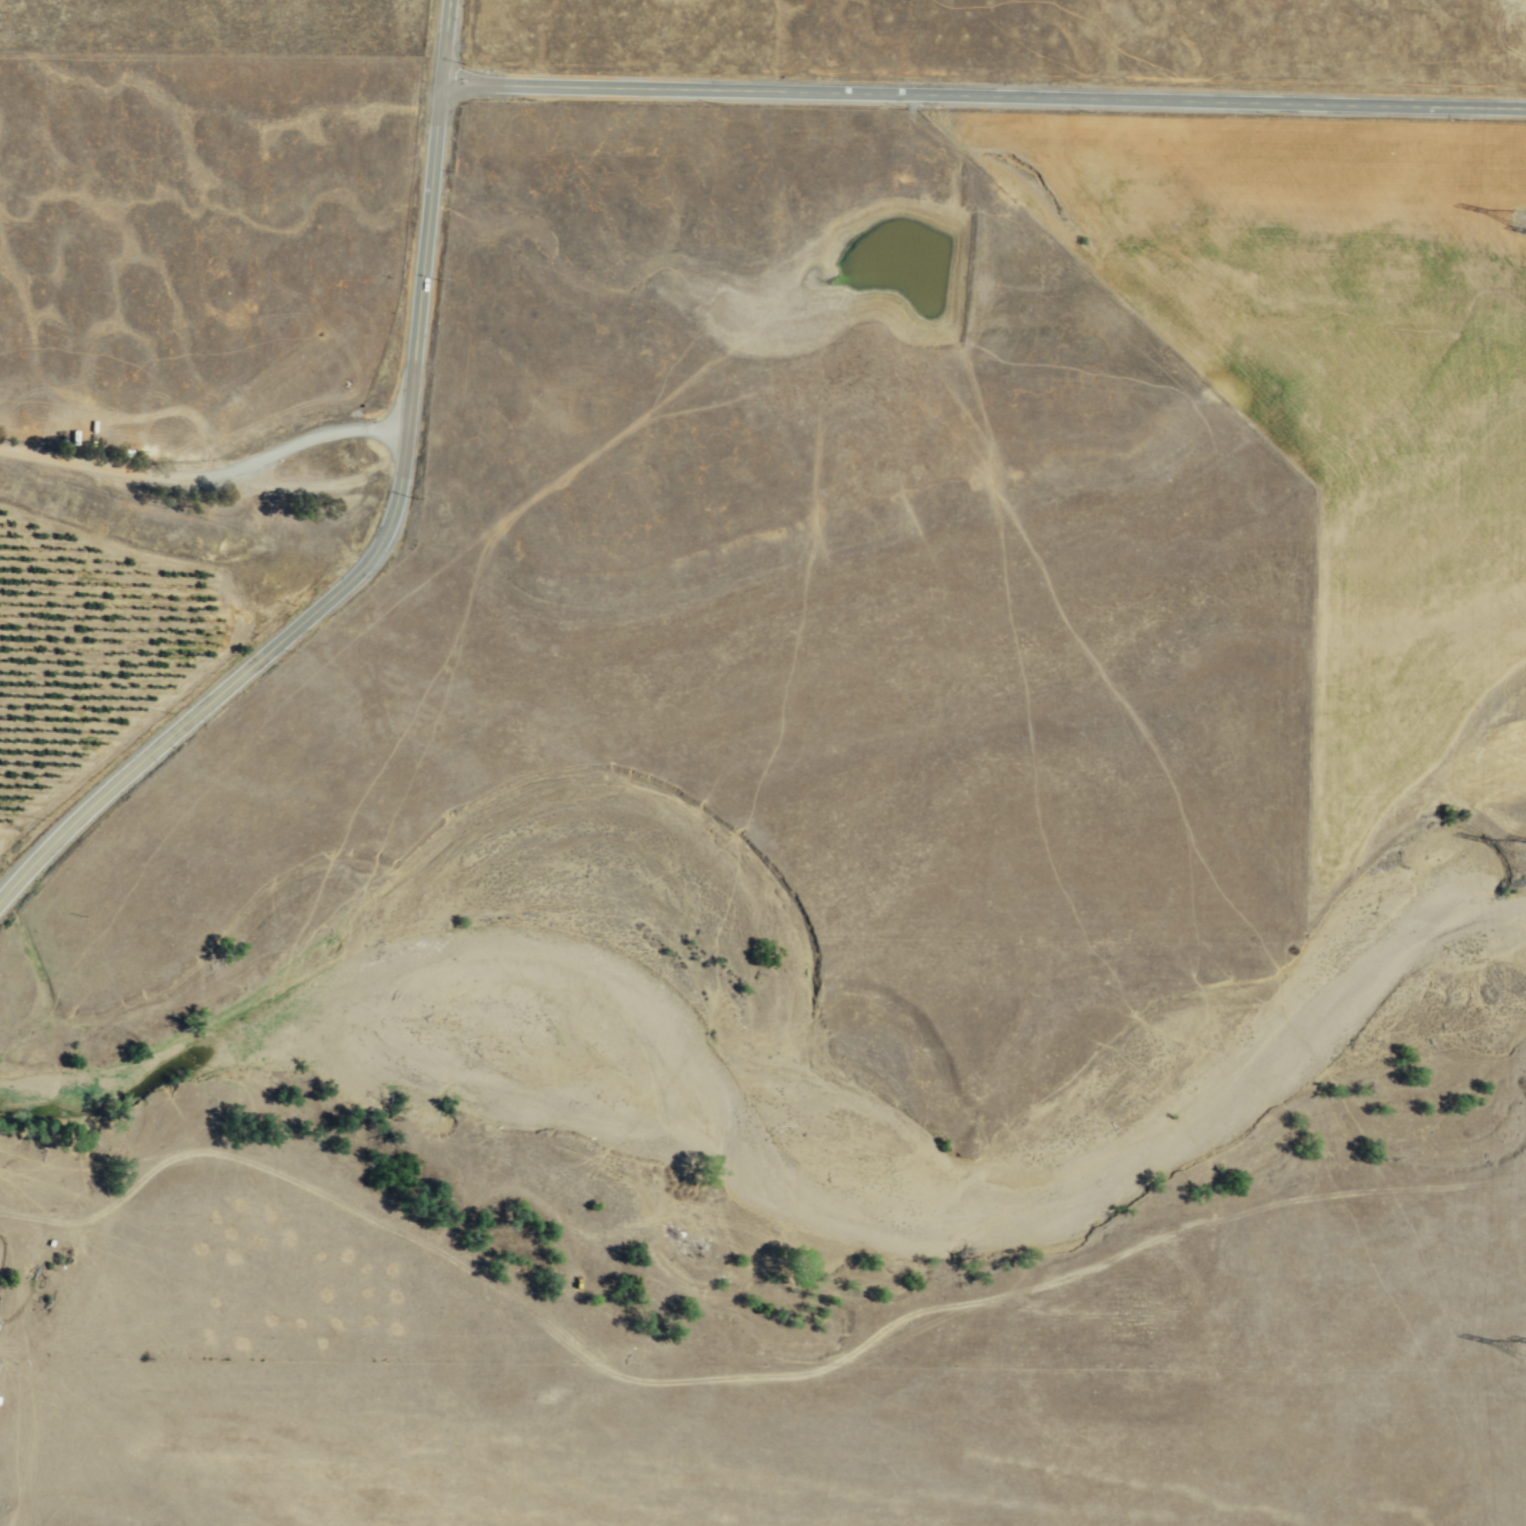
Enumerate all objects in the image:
road: (443, 43)
road: (982, 95)
power tower: (1520, 220)
road: (383, 428)
road: (183, 477)
road: (365, 568)
power tower: (1522, 850)
river: (781, 1159)
road: (22, 1278)
road: (13, 1348)
power tower: (1525, 1349)
road: (739, 1379)
road: (30, 1438)

